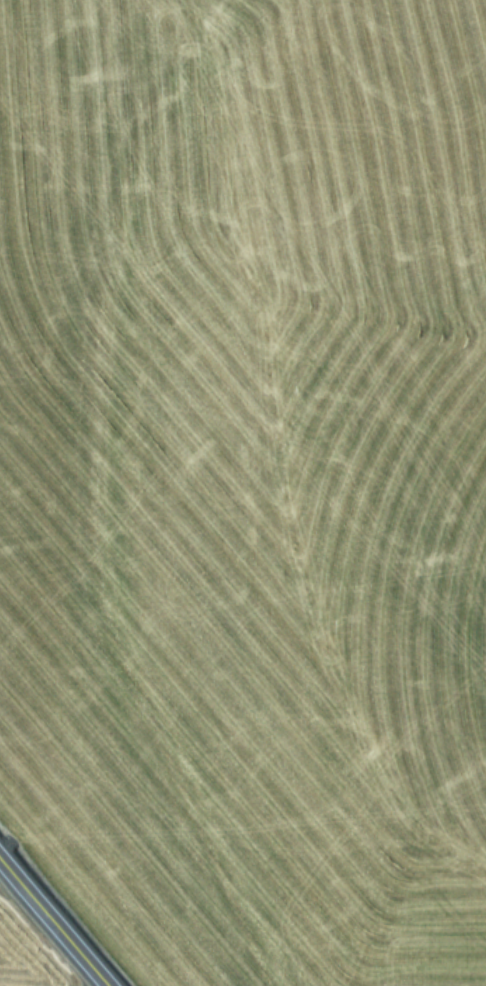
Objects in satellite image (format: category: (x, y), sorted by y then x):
crop: (248, 481)
road: (52, 924)
crop: (27, 953)

